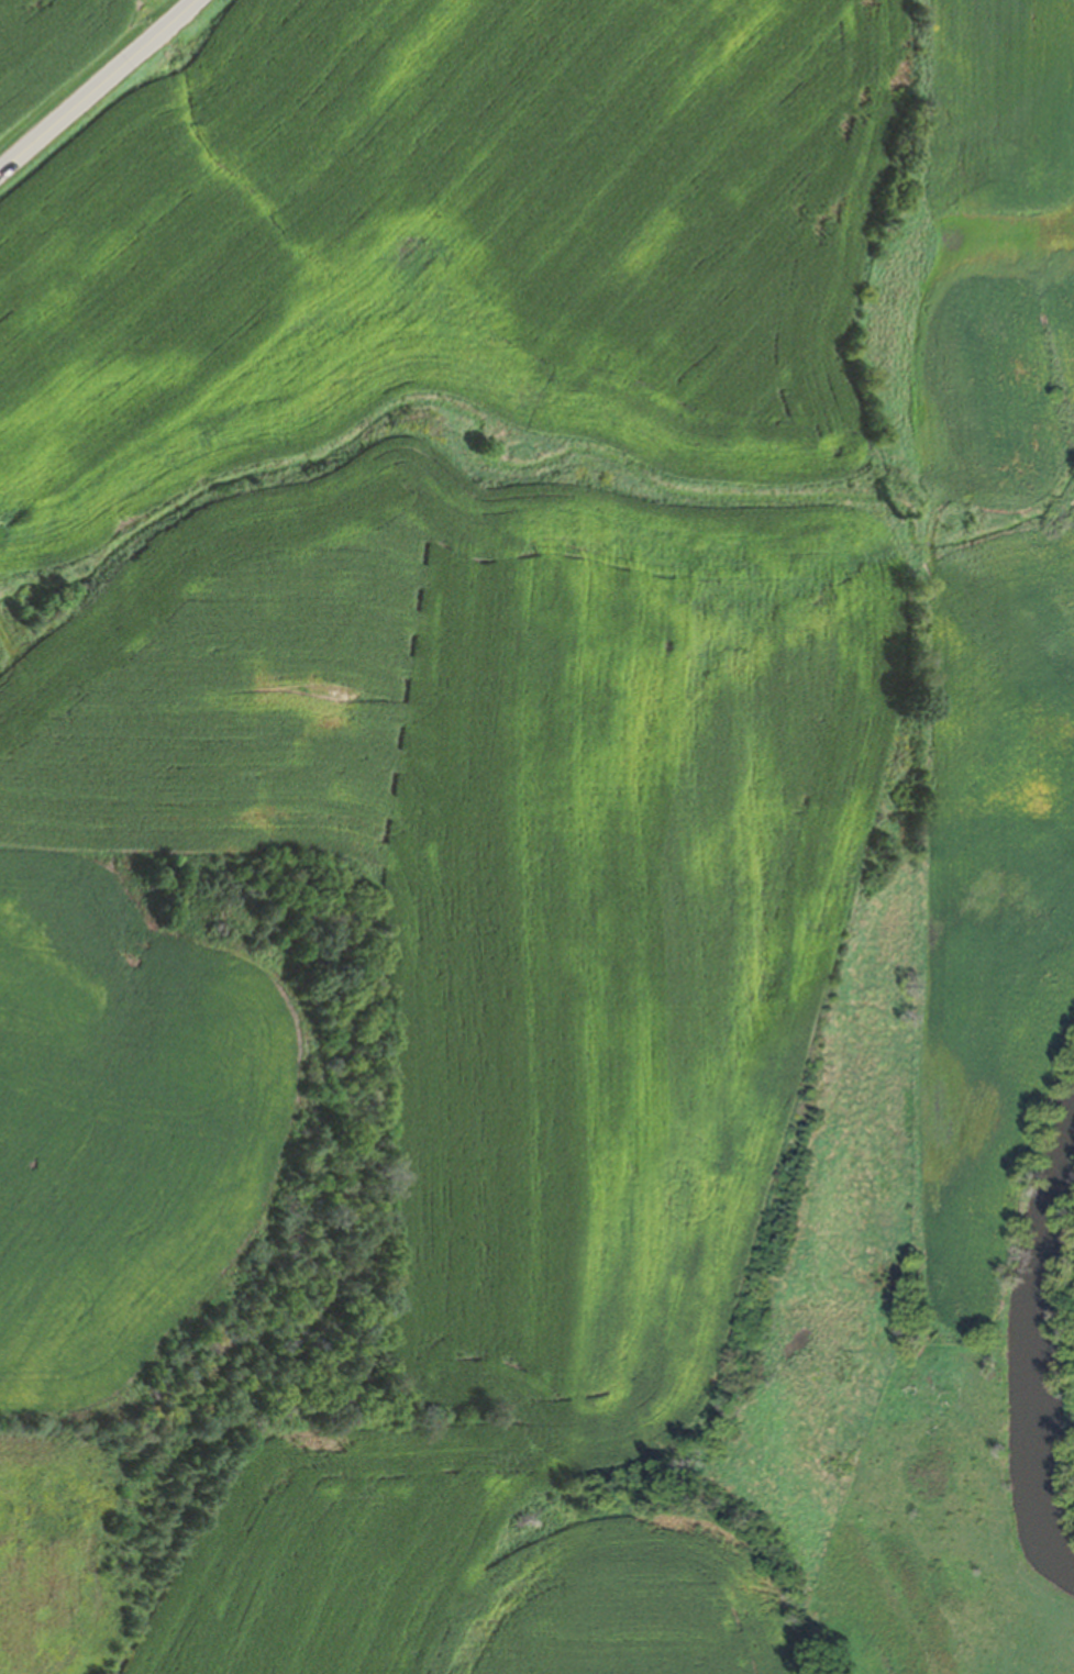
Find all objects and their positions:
road: (93, 84)
river: (1058, 1350)

